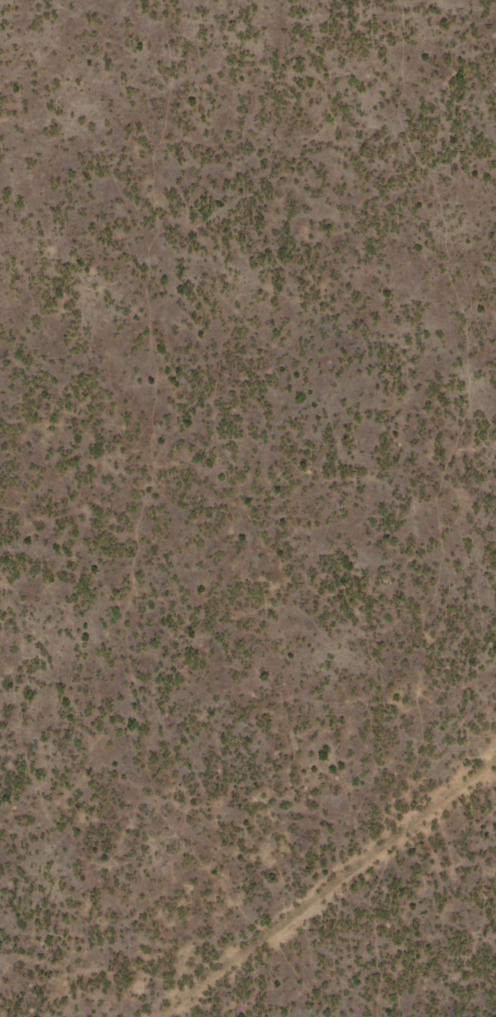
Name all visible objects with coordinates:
road: (336, 896)

